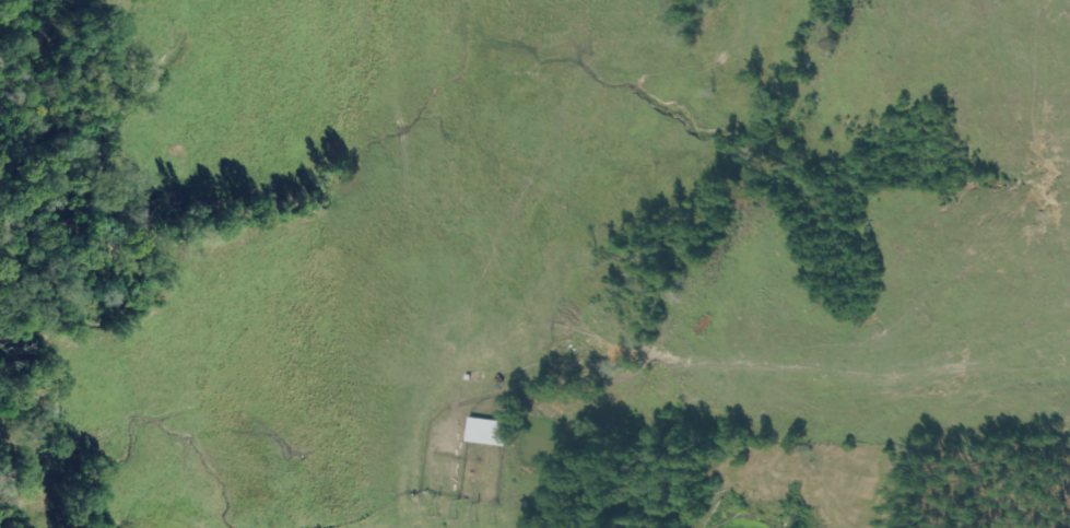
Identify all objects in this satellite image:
building: (491, 431)

